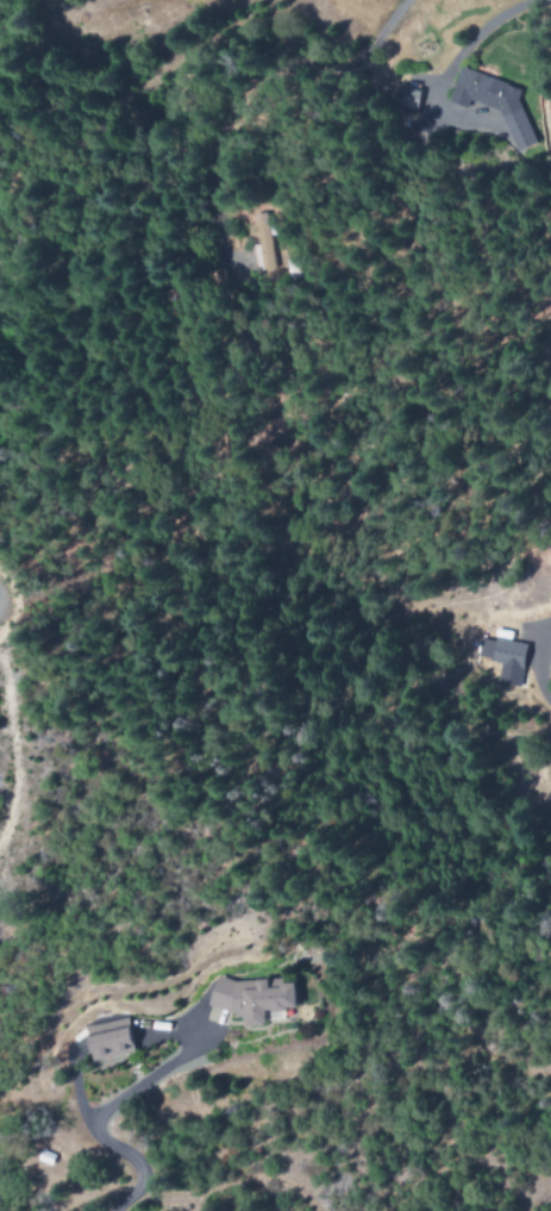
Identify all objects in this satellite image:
building: (409, 99)
building: (494, 104)
building: (263, 239)
building: (503, 660)
building: (251, 1000)
building: (109, 1041)

